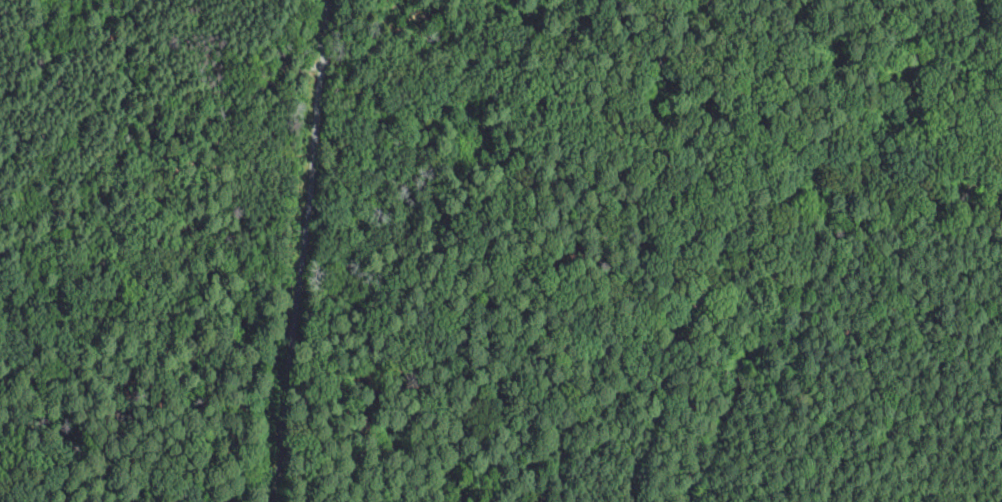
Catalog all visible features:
road: (152, 31)
road: (383, 41)
road: (900, 98)
road: (896, 113)
road: (137, 114)
road: (134, 239)
road: (800, 249)
road: (301, 250)
road: (539, 284)
road: (960, 302)
road: (448, 379)
road: (702, 394)
road: (303, 456)
road: (191, 461)
road: (194, 463)

